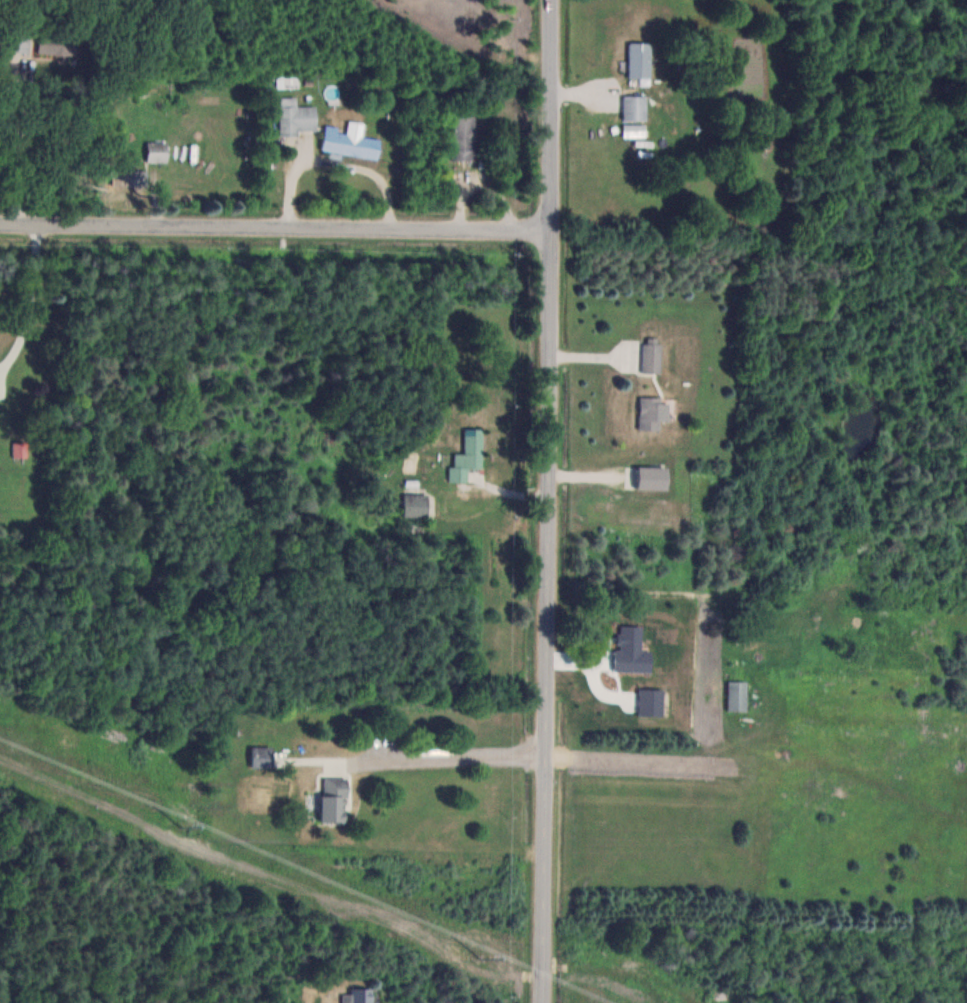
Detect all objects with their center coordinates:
building: (20, 40)
building: (59, 43)
building: (641, 59)
building: (636, 107)
building: (297, 116)
building: (464, 138)
building: (353, 140)
building: (158, 151)
road: (278, 229)
building: (653, 356)
building: (654, 413)
building: (21, 448)
building: (469, 455)
road: (553, 501)
building: (416, 504)
building: (634, 646)
building: (738, 695)
building: (653, 702)
building: (263, 757)
road: (445, 758)
building: (335, 799)
power tower: (181, 825)
power tower: (485, 957)
building: (358, 996)

